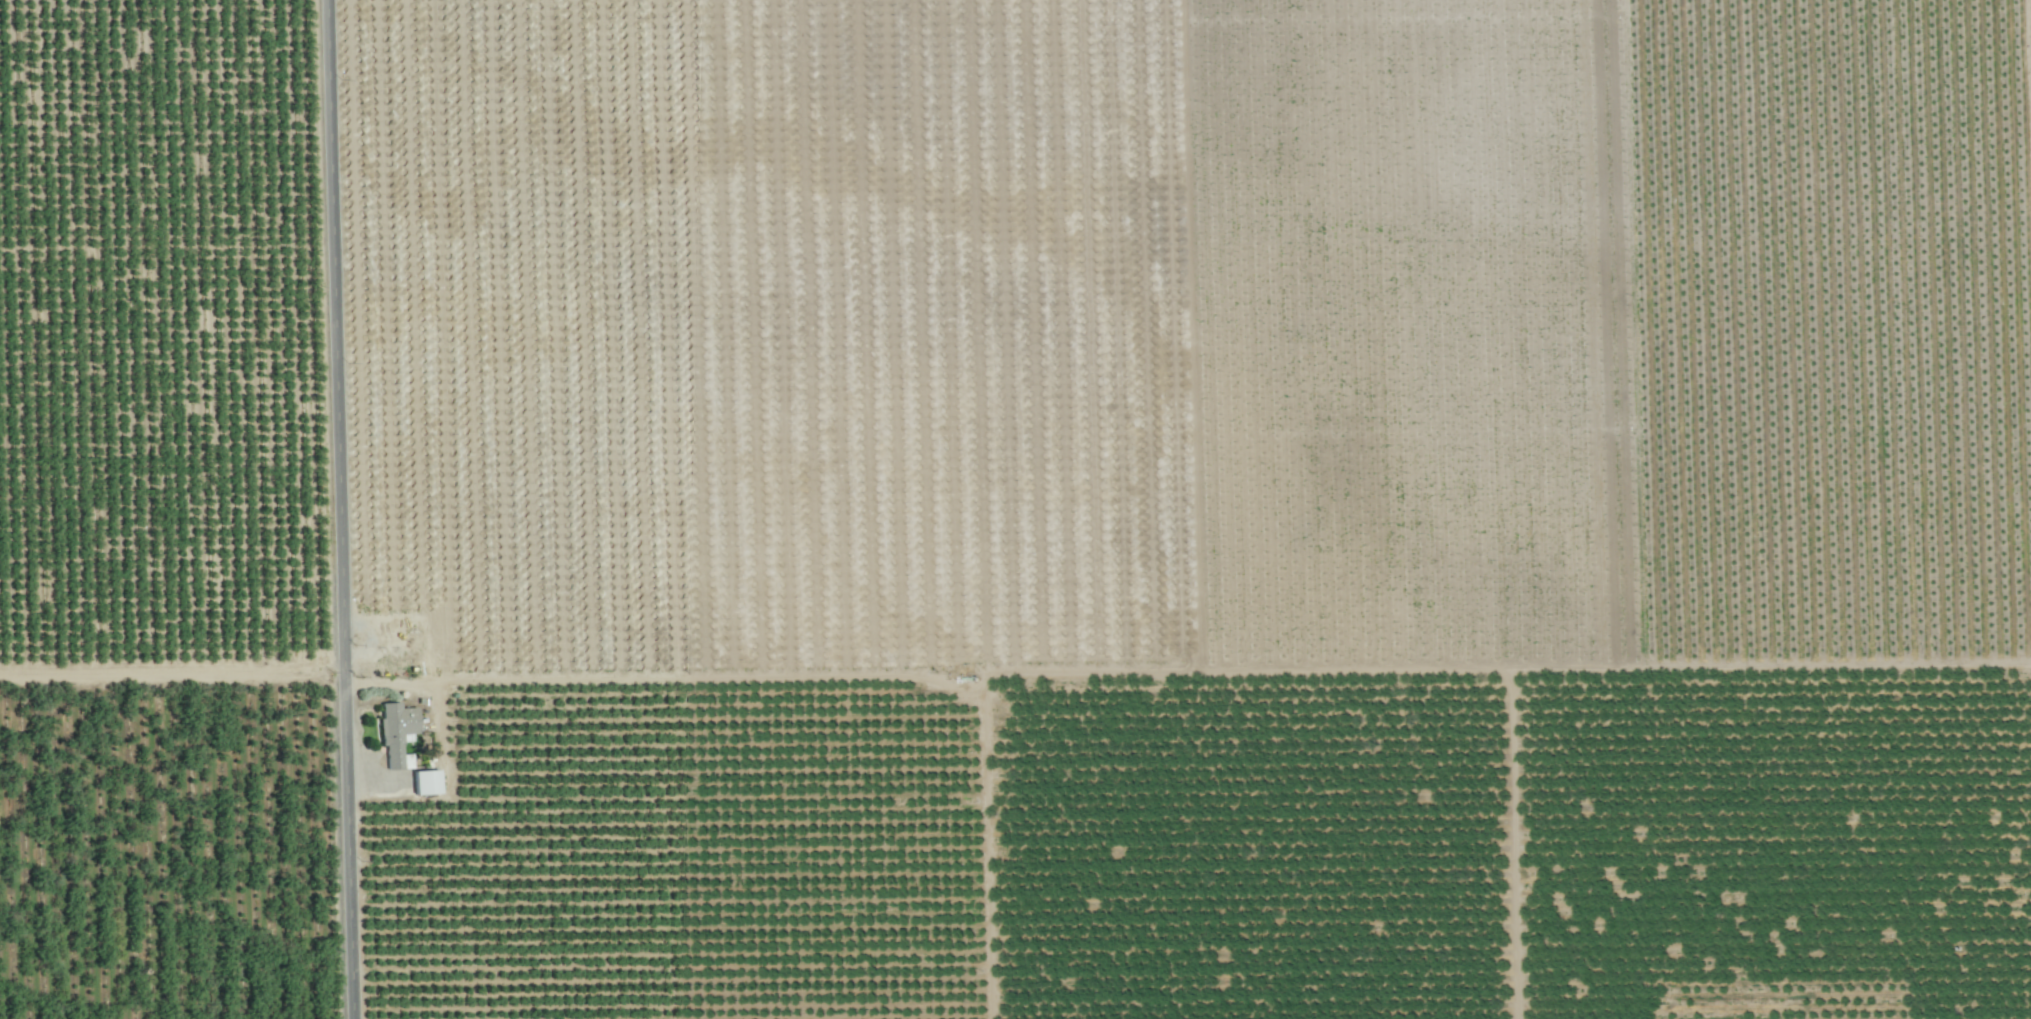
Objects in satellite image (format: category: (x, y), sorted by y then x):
road: (343, 509)
building: (390, 644)
road: (174, 670)
building: (394, 735)
building: (423, 786)

